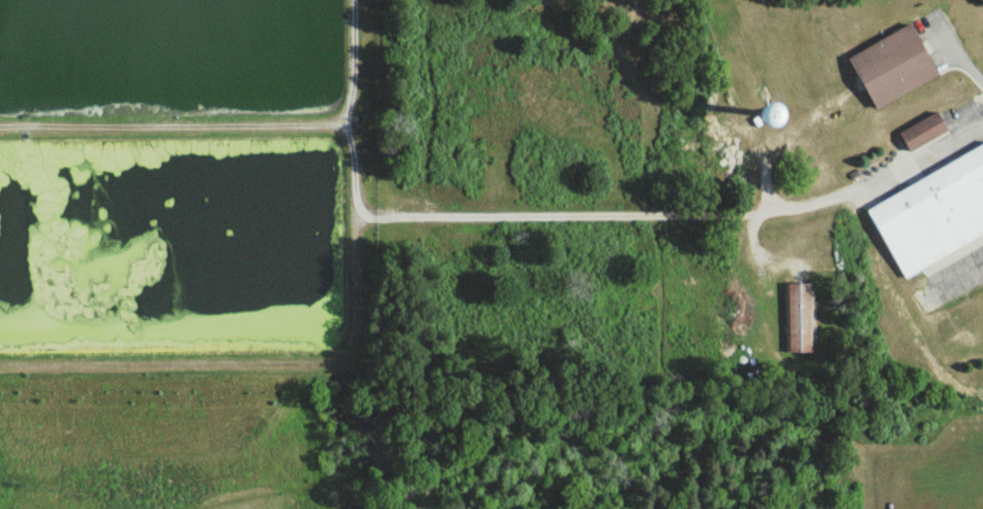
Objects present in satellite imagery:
parking lot: (935, 36)
road: (972, 66)
building: (890, 67)
building: (920, 132)
road: (871, 176)
building: (932, 214)
road: (759, 246)
parking lot: (958, 272)
building: (927, 307)
building: (797, 318)

